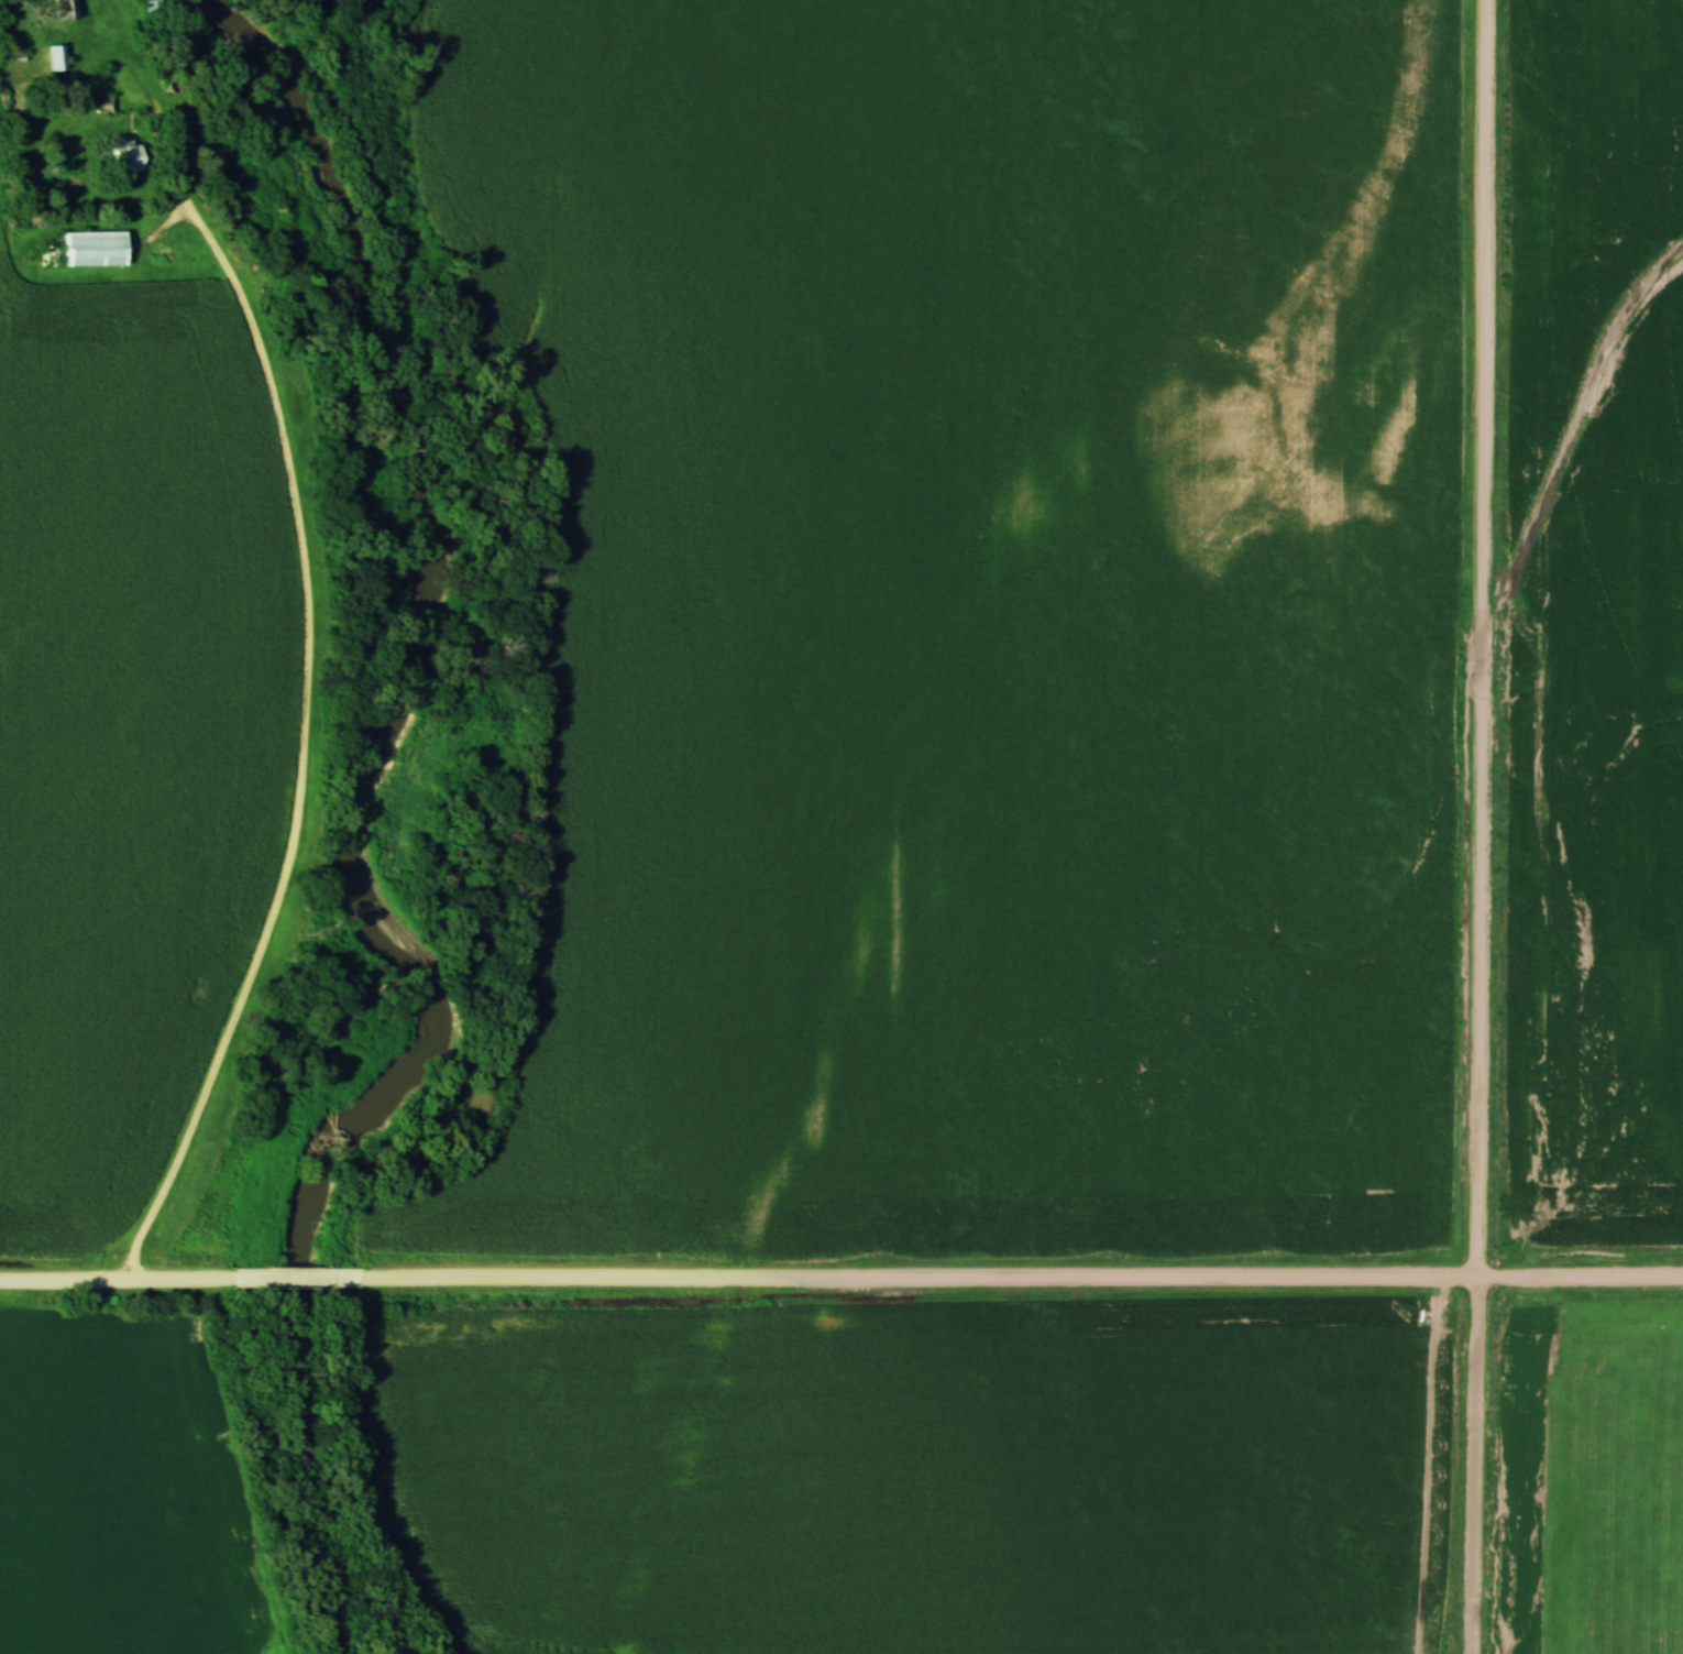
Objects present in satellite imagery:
building: (62, 10)
building: (54, 58)
building: (121, 161)
building: (91, 249)
road: (309, 683)
road: (1483, 826)
road: (116, 1277)
road: (295, 1277)
road: (1020, 1279)

